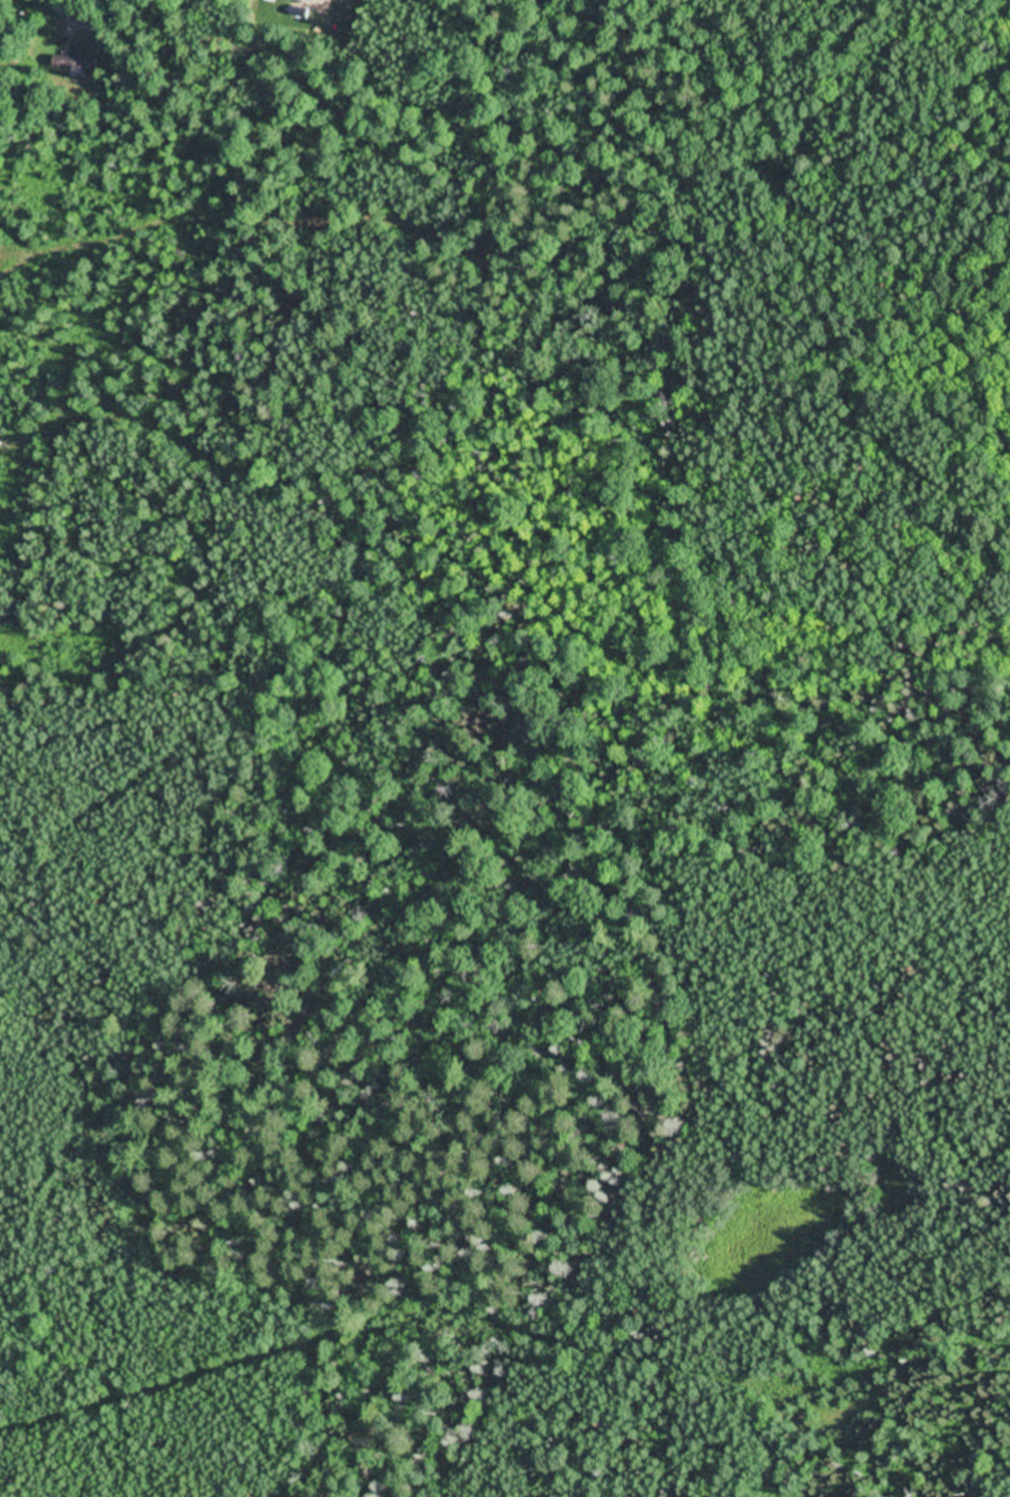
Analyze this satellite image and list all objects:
building: (74, 62)
road: (430, 1317)

